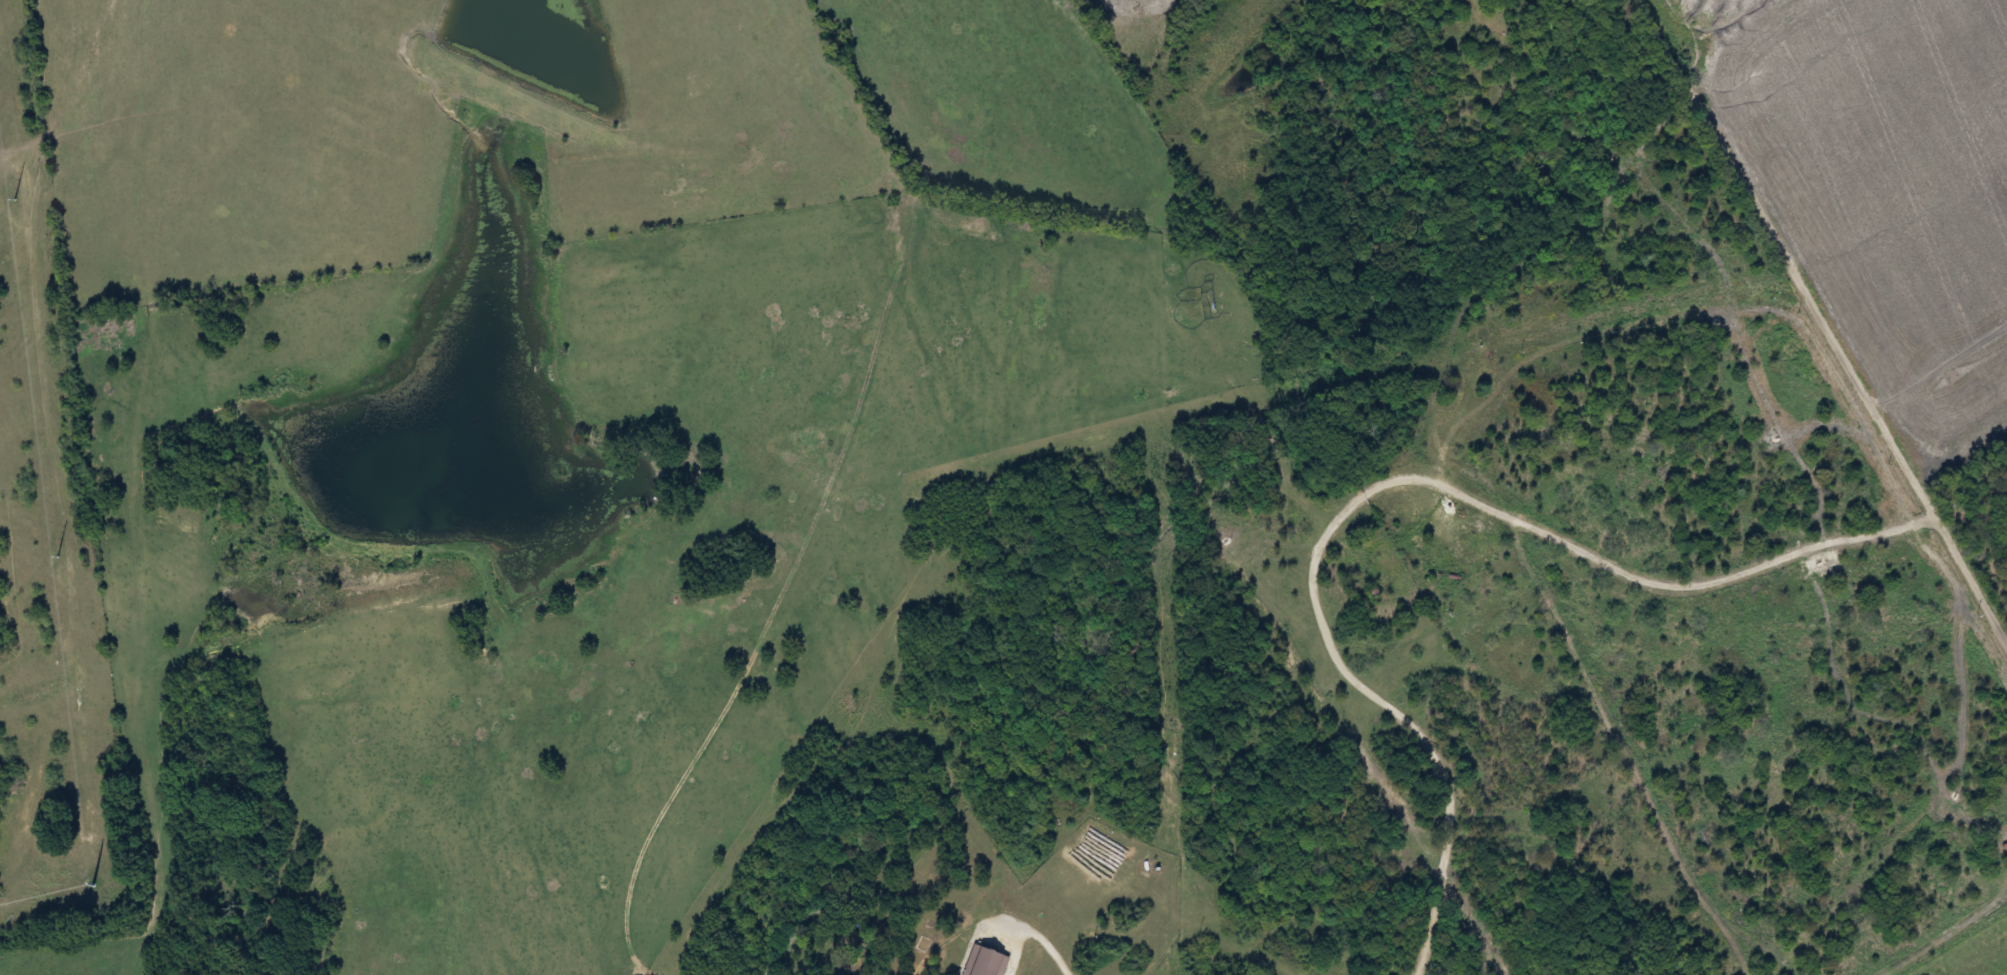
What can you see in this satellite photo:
road: (1823, 319)

